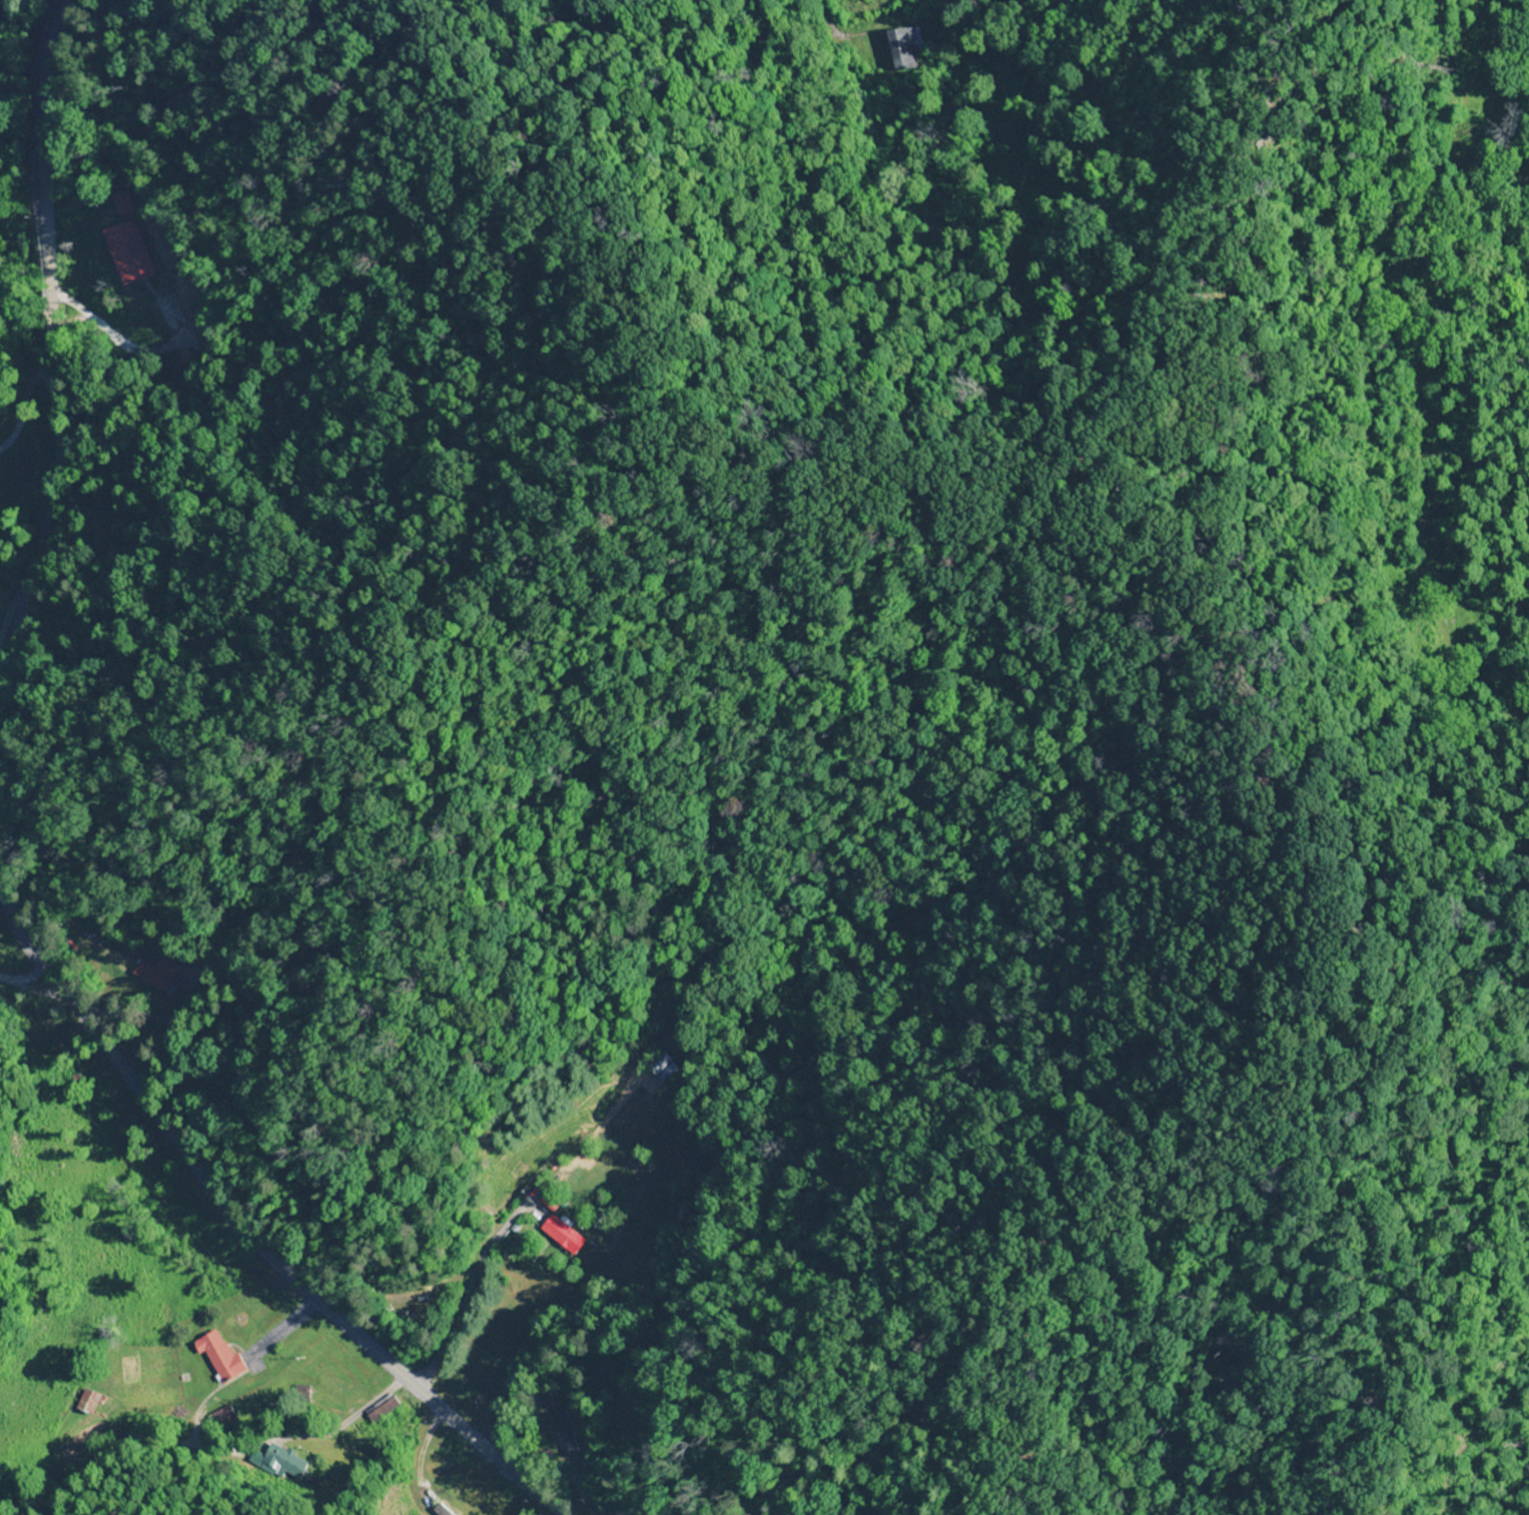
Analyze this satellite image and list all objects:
building: (902, 48)
road: (57, 363)
building: (153, 974)
road: (39, 1042)
building: (655, 1063)
road: (243, 1226)
building: (561, 1235)
building: (218, 1357)
building: (84, 1403)
building: (559, 1440)

